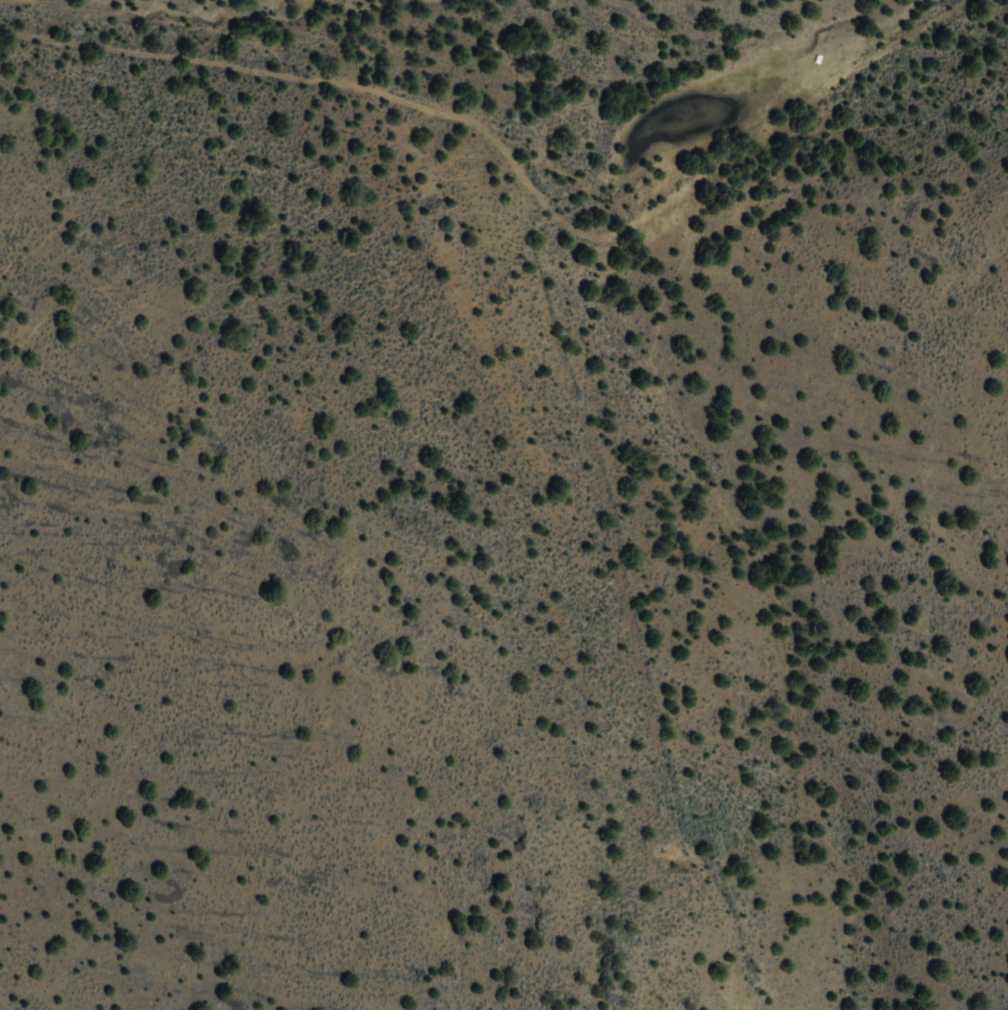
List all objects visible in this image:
road: (521, 168)
road: (612, 498)

